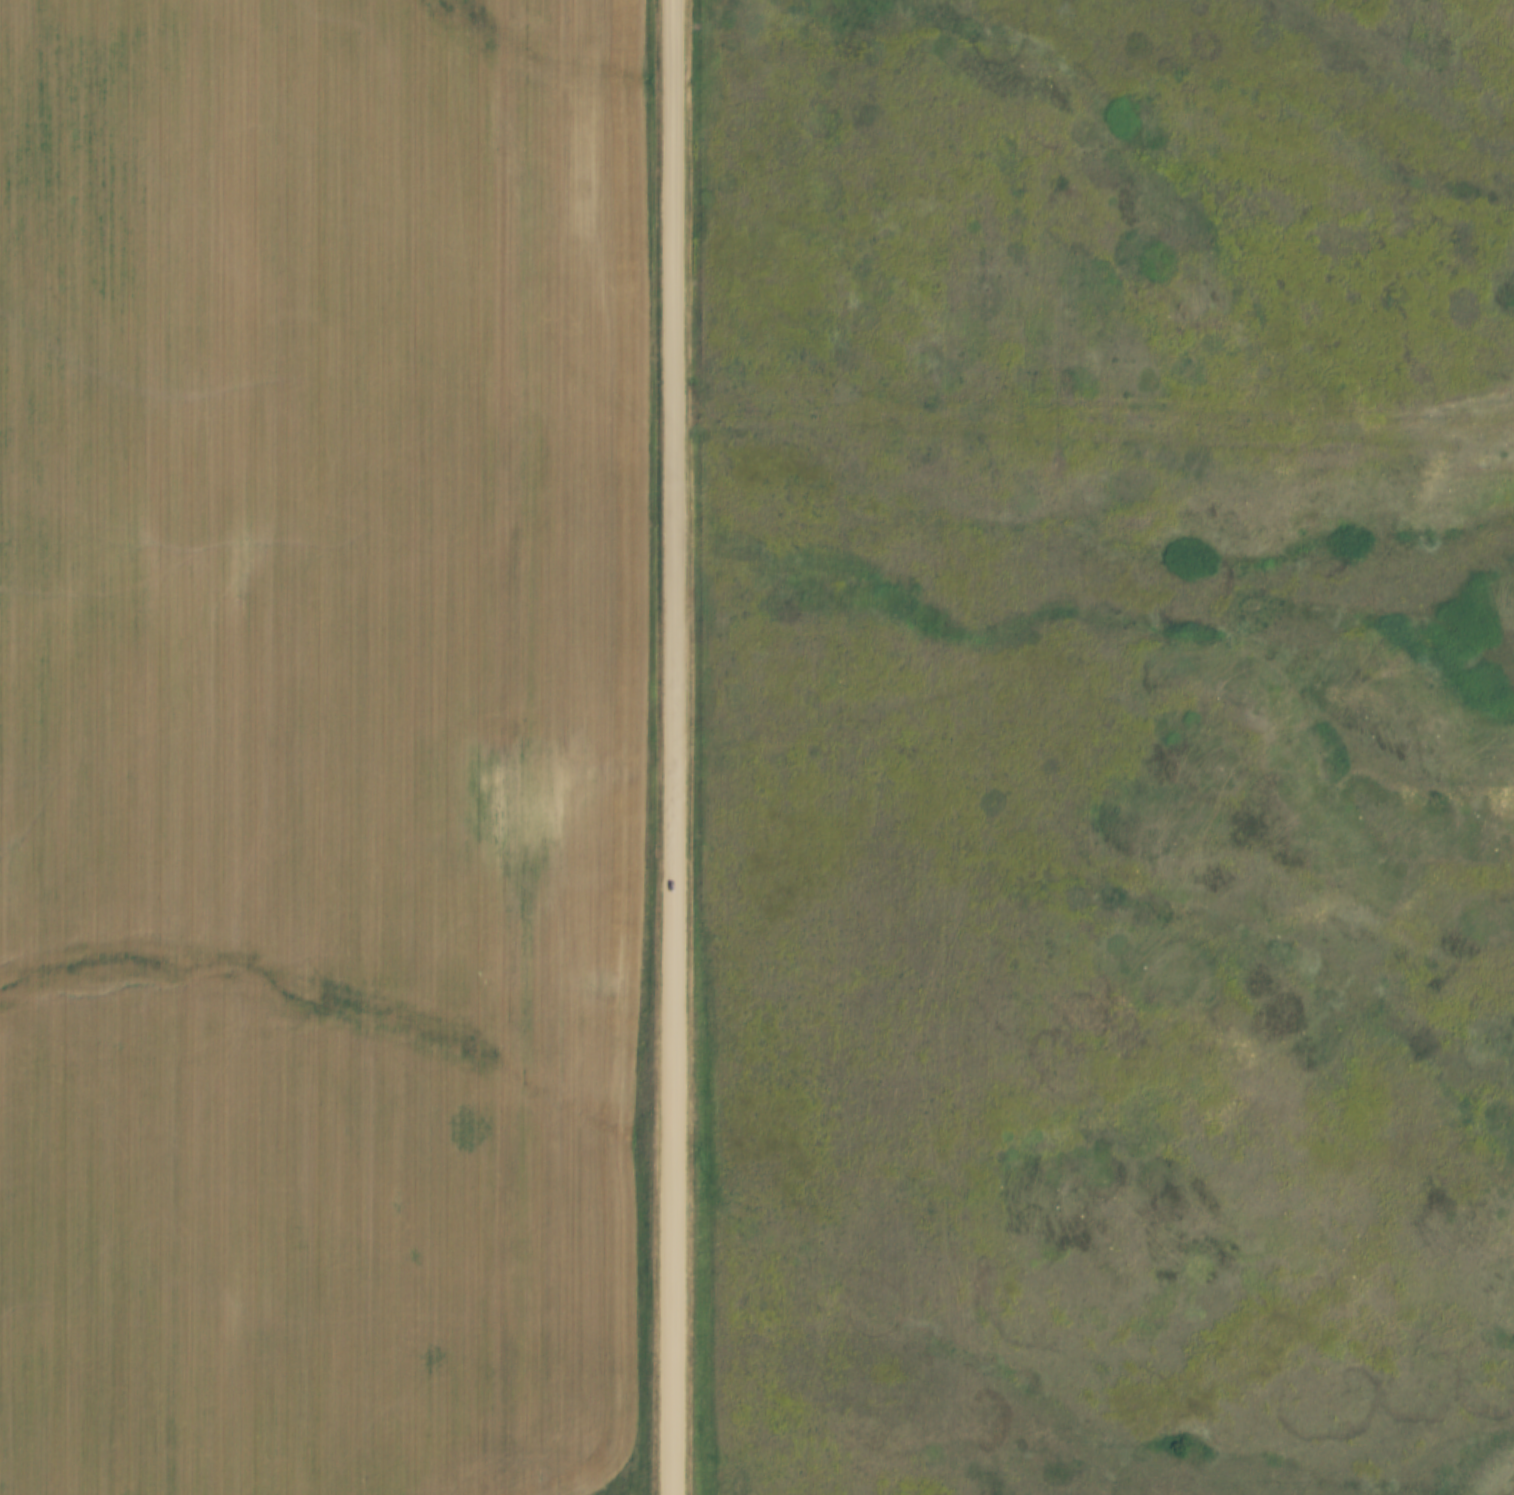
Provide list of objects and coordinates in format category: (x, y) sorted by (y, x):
road: (676, 747)

